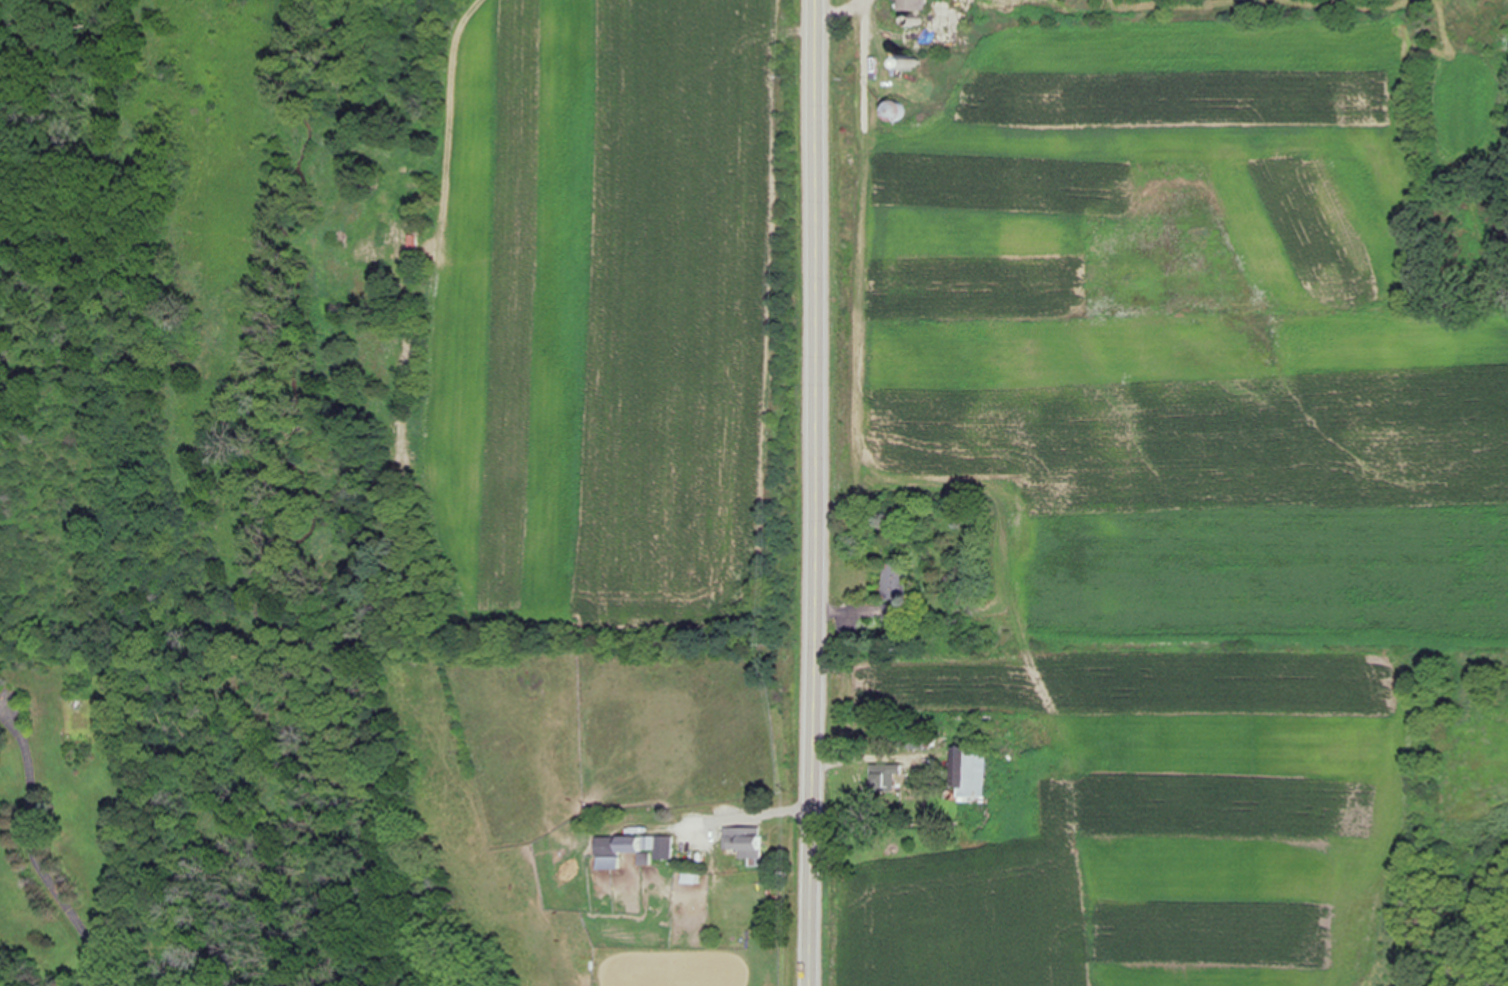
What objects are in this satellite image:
road: (822, 0)
building: (916, 6)
building: (894, 111)
road: (817, 298)
building: (972, 772)
road: (813, 791)
building: (632, 849)

